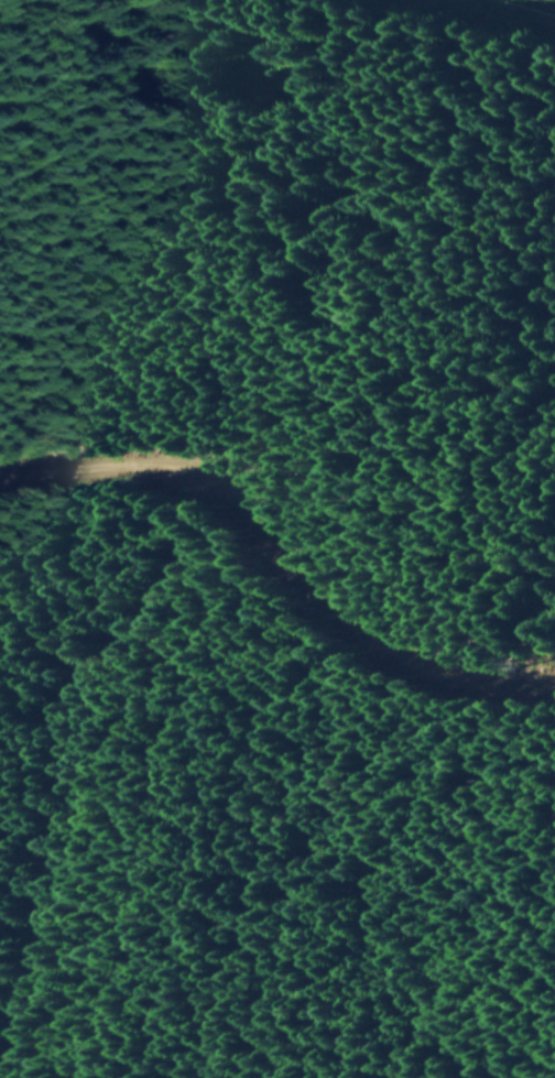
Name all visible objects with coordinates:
road: (306, 726)

